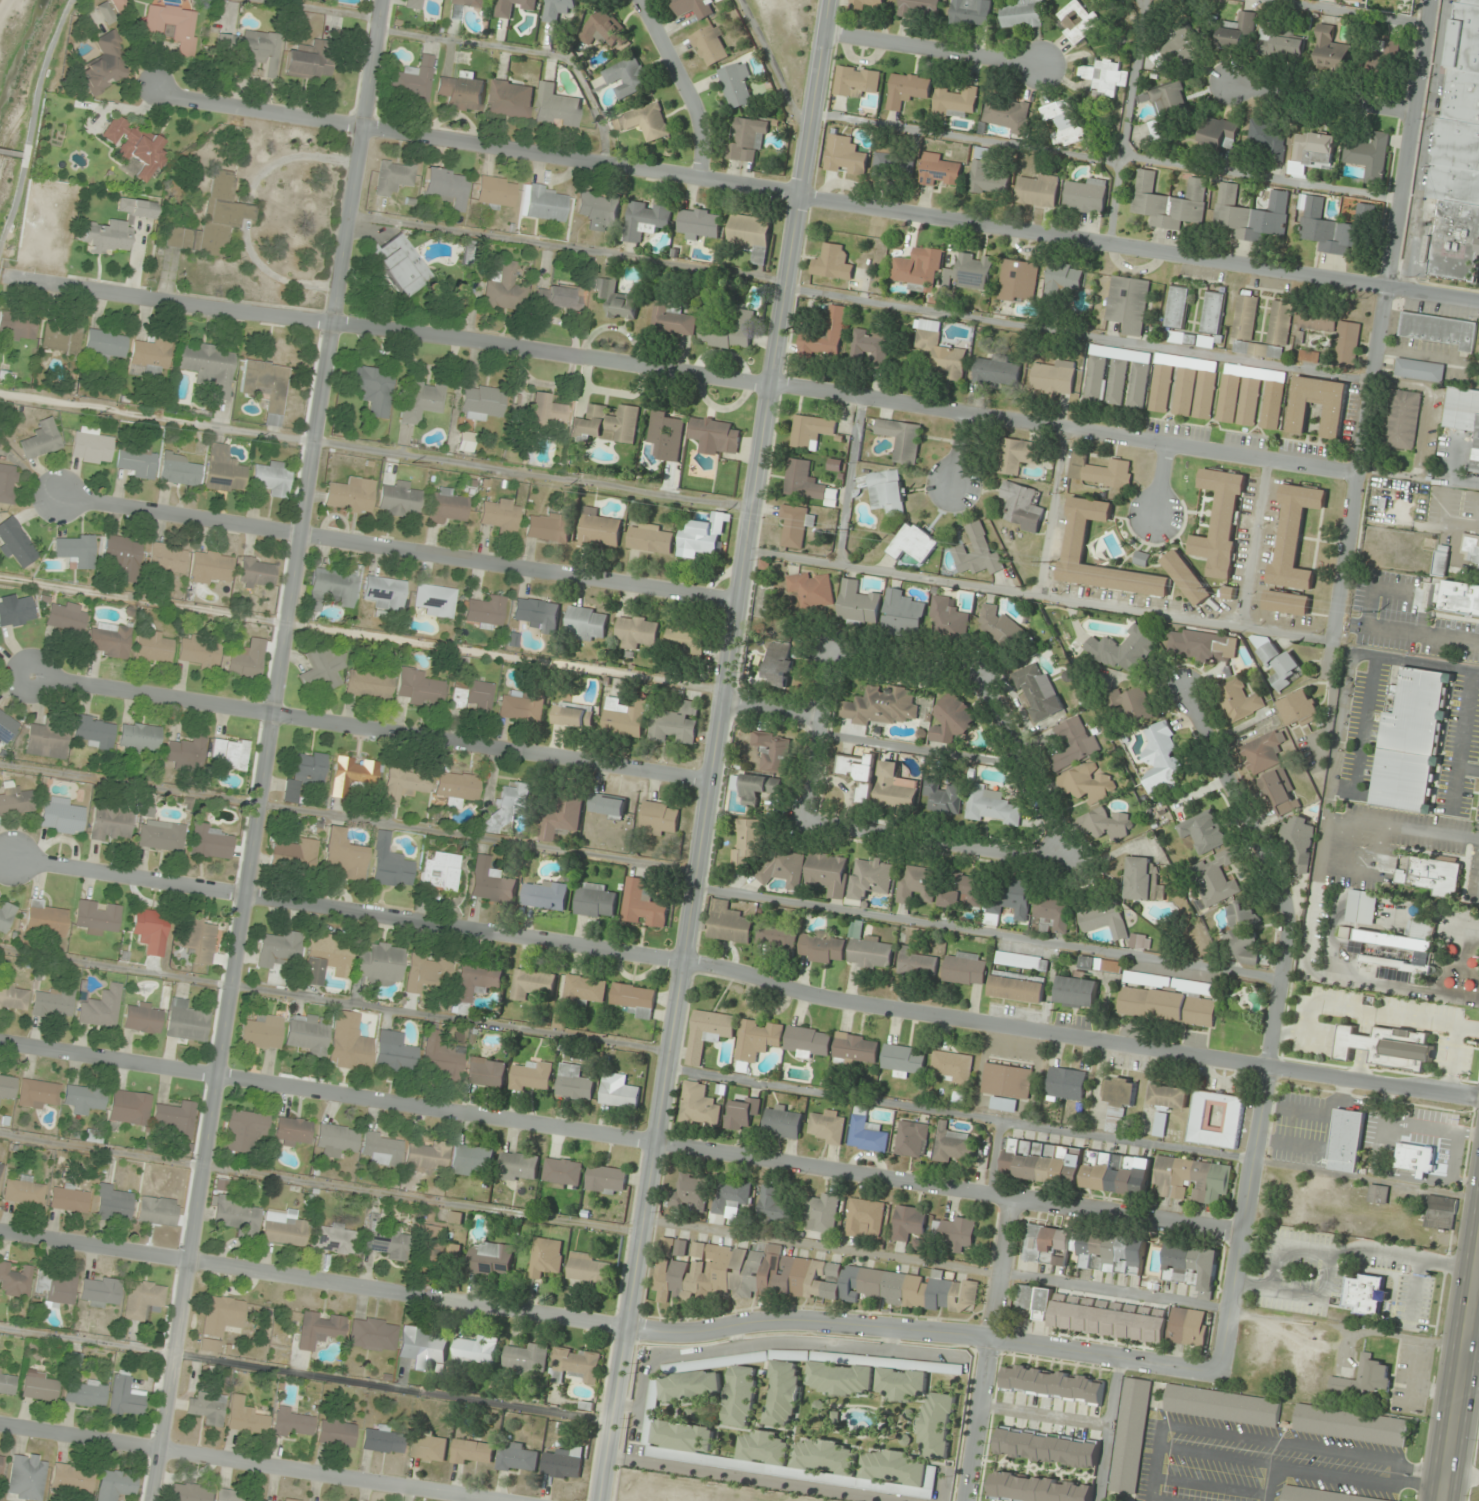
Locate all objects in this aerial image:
building: (1353, 1)
building: (868, 3)
building: (413, 4)
building: (514, 7)
building: (694, 8)
building: (113, 9)
building: (920, 9)
building: (558, 10)
road: (1354, 11)
building: (455, 13)
building: (971, 13)
building: (1021, 15)
building: (1077, 21)
building: (174, 26)
building: (605, 30)
building: (1238, 32)
building: (709, 44)
building: (1281, 44)
road: (936, 47)
building: (1183, 47)
building: (1331, 50)
building: (257, 53)
building: (1383, 59)
building: (308, 60)
building: (104, 65)
park: (10, 70)
building: (627, 77)
building: (1105, 78)
building: (413, 80)
building: (856, 82)
road: (683, 84)
building: (737, 86)
building: (906, 90)
building: (462, 91)
building: (511, 99)
road: (1324, 100)
building: (955, 103)
building: (557, 107)
building: (1167, 109)
building: (1056, 110)
building: (1006, 114)
road: (1124, 121)
building: (642, 122)
building: (1068, 129)
building: (1219, 133)
building: (748, 138)
building: (1268, 139)
building: (135, 146)
building: (1311, 153)
building: (1458, 153)
building: (845, 156)
road: (1108, 156)
building: (1369, 156)
building: (894, 166)
building: (940, 171)
building: (984, 174)
building: (393, 177)
building: (447, 186)
building: (1036, 191)
building: (496, 192)
building: (1086, 196)
road: (820, 197)
building: (1168, 202)
building: (543, 203)
building: (137, 208)
building: (599, 210)
building: (1250, 214)
building: (213, 219)
building: (644, 220)
building: (699, 223)
building: (1327, 229)
building: (106, 236)
building: (751, 236)
building: (833, 263)
building: (401, 265)
building: (919, 269)
building: (974, 271)
building: (1018, 281)
building: (1062, 283)
building: (504, 288)
building: (615, 295)
building: (559, 296)
building: (1128, 304)
building: (1177, 307)
building: (1213, 313)
building: (1244, 317)
building: (671, 319)
road: (1383, 319)
building: (1318, 320)
building: (17, 327)
building: (1438, 330)
building: (729, 331)
building: (1272, 333)
building: (825, 336)
road: (1080, 336)
building: (61, 337)
building: (1190, 339)
building: (106, 344)
building: (872, 346)
building: (1348, 346)
building: (940, 351)
building: (1307, 356)
building: (209, 365)
building: (1420, 370)
building: (995, 371)
road: (687, 374)
building: (1118, 377)
building: (1053, 378)
building: (268, 387)
building: (373, 388)
building: (1161, 388)
building: (1194, 393)
building: (1228, 398)
building: (422, 401)
building: (1248, 401)
building: (483, 402)
building: (1273, 405)
building: (545, 411)
building: (1464, 415)
building: (1334, 417)
building: (1403, 420)
building: (607, 424)
building: (811, 431)
building: (667, 435)
building: (715, 435)
building: (42, 439)
building: (901, 439)
building: (466, 441)
building: (92, 445)
road: (961, 451)
building: (1016, 456)
building: (137, 461)
building: (180, 470)
building: (224, 470)
building: (1100, 472)
building: (273, 478)
road: (1419, 478)
road: (1162, 481)
road: (847, 482)
building: (8, 483)
building: (806, 483)
building: (889, 492)
building: (351, 495)
building: (400, 499)
building: (448, 505)
building: (1022, 506)
road: (1051, 511)
building: (501, 514)
building: (1221, 522)
building: (795, 524)
building: (549, 526)
building: (599, 529)
building: (1294, 535)
building: (703, 536)
building: (651, 539)
building: (16, 542)
road: (1255, 542)
building: (913, 543)
building: (1075, 544)
building: (1470, 547)
building: (76, 549)
road: (401, 549)
building: (978, 553)
building: (123, 556)
building: (167, 557)
building: (1141, 559)
building: (1441, 560)
building: (212, 566)
building: (1478, 568)
building: (257, 572)
building: (1187, 578)
building: (332, 587)
building: (813, 589)
building: (385, 592)
building: (1230, 593)
road: (1040, 594)
building: (1458, 597)
building: (436, 599)
building: (1287, 602)
building: (858, 604)
building: (16, 609)
building: (486, 611)
building: (903, 613)
building: (538, 614)
building: (66, 616)
road: (1424, 616)
building: (949, 619)
building: (586, 624)
road: (1376, 628)
building: (1002, 630)
building: (636, 631)
building: (109, 639)
building: (687, 640)
building: (1202, 645)
building: (153, 647)
building: (1123, 650)
building: (199, 651)
building: (249, 659)
building: (779, 664)
building: (1280, 664)
building: (323, 669)
road: (970, 670)
road: (1349, 670)
building: (369, 684)
building: (420, 688)
building: (1038, 691)
building: (472, 693)
building: (1239, 700)
building: (1133, 704)
building: (522, 706)
building: (881, 706)
road: (772, 708)
building: (1300, 709)
building: (572, 715)
building: (624, 717)
building: (953, 720)
road: (1465, 720)
building: (676, 724)
road: (369, 726)
building: (7, 727)
building: (96, 731)
building: (140, 738)
building: (47, 741)
building: (1411, 741)
building: (1073, 744)
road: (716, 750)
road: (272, 751)
road: (921, 751)
building: (773, 752)
building: (1264, 752)
building: (187, 753)
building: (230, 753)
building: (1161, 760)
building: (305, 774)
building: (354, 774)
building: (859, 775)
road: (1455, 779)
building: (406, 783)
building: (1087, 783)
building: (457, 788)
building: (758, 788)
building: (896, 788)
building: (1280, 793)
building: (943, 797)
building: (15, 799)
building: (607, 806)
building: (991, 806)
building: (508, 807)
building: (61, 816)
building: (562, 816)
building: (659, 818)
building: (110, 822)
building: (1106, 824)
building: (1203, 831)
road: (884, 832)
building: (161, 835)
building: (211, 842)
building: (747, 842)
building: (1300, 842)
road: (1349, 845)
building: (296, 853)
building: (345, 854)
building: (390, 864)
building: (784, 868)
building: (440, 872)
building: (722, 872)
building: (828, 874)
road: (1372, 874)
building: (1432, 875)
building: (871, 878)
building: (1137, 878)
building: (1217, 878)
building: (491, 882)
building: (917, 885)
building: (963, 891)
building: (544, 895)
building: (595, 901)
building: (642, 905)
building: (1031, 905)
road: (1312, 906)
building: (1362, 907)
road: (1408, 915)
building: (97, 916)
building: (6, 917)
building: (47, 919)
building: (1105, 920)
road: (1335, 923)
building: (728, 924)
building: (152, 930)
road: (987, 930)
building: (1346, 932)
building: (1242, 935)
building: (777, 936)
building: (200, 939)
building: (823, 947)
building: (279, 949)
building: (869, 951)
building: (1400, 951)
building: (327, 958)
building: (380, 963)
road: (1463, 963)
building: (918, 964)
building: (965, 969)
building: (427, 972)
road: (745, 975)
building: (478, 979)
building: (531, 984)
building: (1017, 987)
building: (1201, 989)
building: (584, 991)
building: (1077, 992)
building: (14, 996)
building: (634, 1000)
building: (54, 1002)
building: (101, 1007)
building: (143, 1017)
building: (560, 1018)
building: (187, 1021)
road: (1272, 1023)
building: (263, 1032)
building: (707, 1034)
building: (308, 1035)
building: (757, 1039)
building: (809, 1042)
building: (349, 1043)
building: (1388, 1047)
building: (856, 1050)
building: (395, 1053)
building: (442, 1057)
building: (903, 1060)
building: (953, 1067)
building: (486, 1072)
building: (532, 1076)
building: (1007, 1081)
building: (574, 1083)
building: (1066, 1084)
building: (7, 1087)
building: (619, 1091)
building: (38, 1093)
building: (1168, 1097)
building: (84, 1098)
building: (1119, 1102)
building: (698, 1106)
building: (130, 1107)
building: (742, 1113)
road: (960, 1113)
building: (177, 1118)
building: (1216, 1119)
building: (783, 1121)
building: (1160, 1125)
building: (826, 1126)
building: (245, 1130)
building: (293, 1132)
building: (94, 1135)
road: (620, 1136)
building: (866, 1136)
building: (337, 1139)
building: (912, 1139)
building: (1347, 1141)
building: (951, 1144)
building: (383, 1148)
road: (991, 1155)
building: (428, 1157)
building: (1416, 1158)
building: (471, 1159)
building: (1, 1166)
building: (519, 1166)
building: (1076, 1167)
building: (562, 1173)
building: (606, 1180)
building: (1192, 1180)
building: (1320, 1182)
building: (24, 1191)
building: (691, 1192)
building: (1378, 1194)
building: (731, 1197)
building: (69, 1199)
building: (114, 1203)
building: (774, 1204)
building: (158, 1210)
building: (822, 1213)
building: (1440, 1213)
building: (237, 1215)
building: (456, 1218)
building: (865, 1219)
building: (909, 1223)
building: (285, 1227)
building: (956, 1233)
building: (336, 1240)
building: (388, 1240)
building: (437, 1248)
building: (1085, 1250)
building: (546, 1257)
building: (491, 1259)
road: (936, 1264)
building: (1191, 1265)
building: (589, 1271)
building: (16, 1279)
building: (811, 1280)
building: (56, 1286)
building: (99, 1291)
building: (1367, 1296)
building: (144, 1299)
building: (1036, 1303)
building: (220, 1320)
building: (1131, 1321)
road: (607, 1325)
building: (319, 1329)
building: (374, 1334)
road: (1474, 1335)
building: (422, 1347)
road: (987, 1348)
building: (476, 1352)
building: (526, 1359)
building: (580, 1364)
building: (910, 1378)
building: (840, 1379)
building: (1363, 1380)
building: (7, 1382)
building: (1054, 1385)
building: (40, 1386)
road: (1461, 1388)
building: (784, 1392)
building: (85, 1393)
building: (742, 1396)
building: (126, 1397)
building: (1223, 1405)
building: (208, 1407)
building: (246, 1418)
building: (293, 1422)
building: (666, 1424)
building: (937, 1425)
building: (1351, 1425)
building: (336, 1432)
building: (1130, 1435)
building: (383, 1440)
building: (428, 1448)
building: (1048, 1448)
building: (473, 1452)
building: (519, 1459)
building: (1, 1463)
building: (565, 1463)
road: (248, 1464)
building: (897, 1469)
building: (27, 1476)
building: (72, 1478)
building: (115, 1484)
building: (1037, 1488)
building: (189, 1492)
building: (1323, 1495)
building: (230, 1496)
building: (289, 1499)

